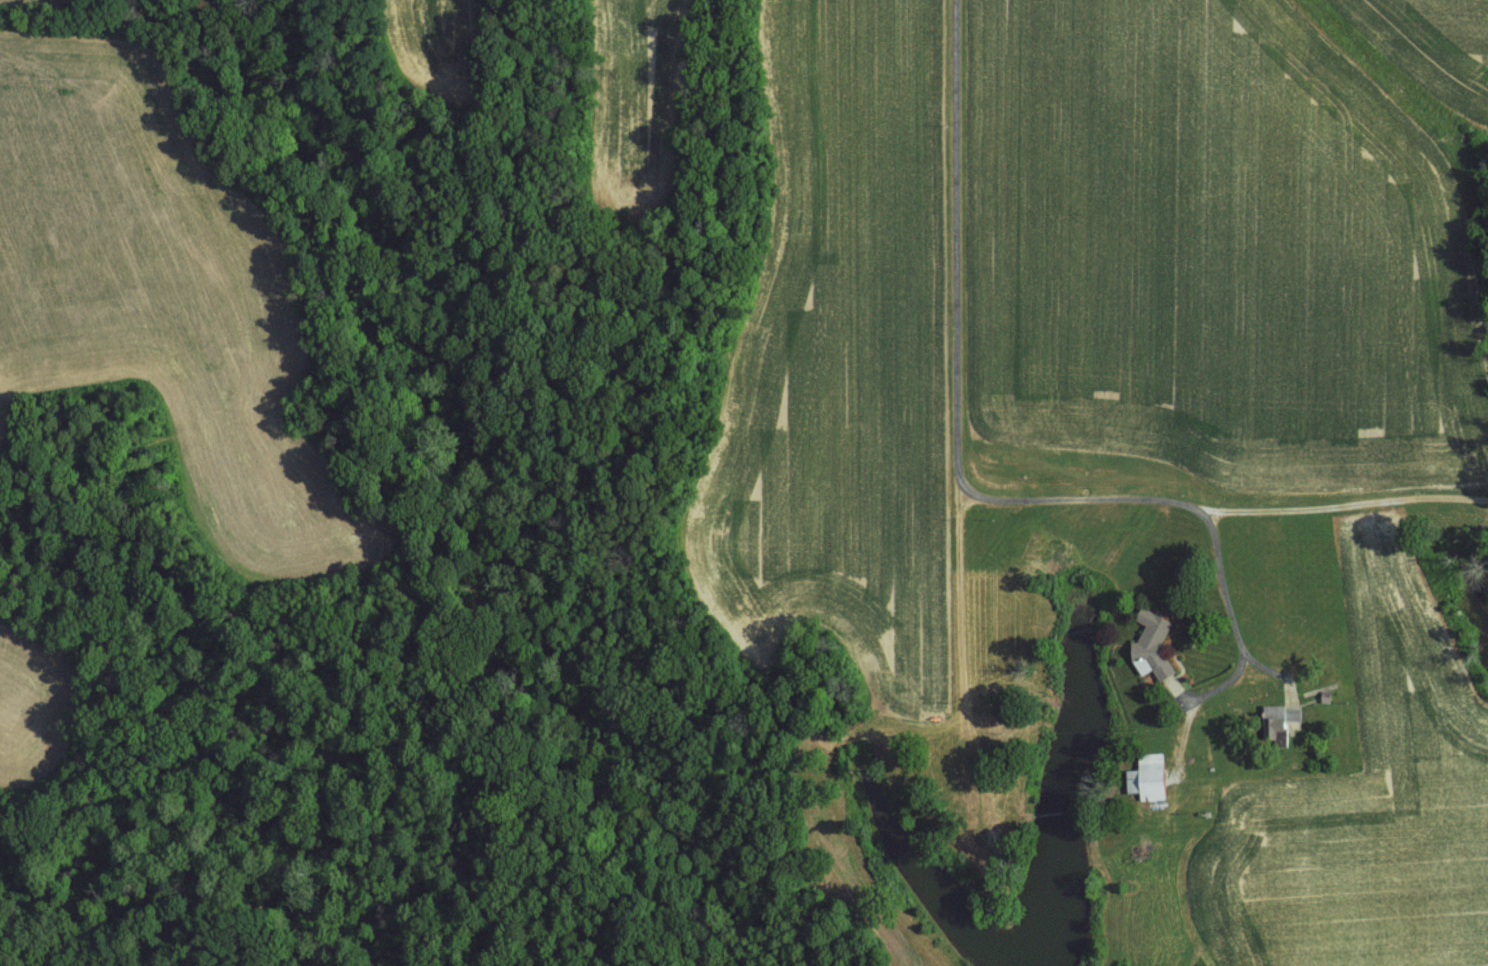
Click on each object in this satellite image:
road: (953, 249)
road: (1190, 504)
building: (1155, 650)
building: (1281, 725)
building: (1148, 777)

